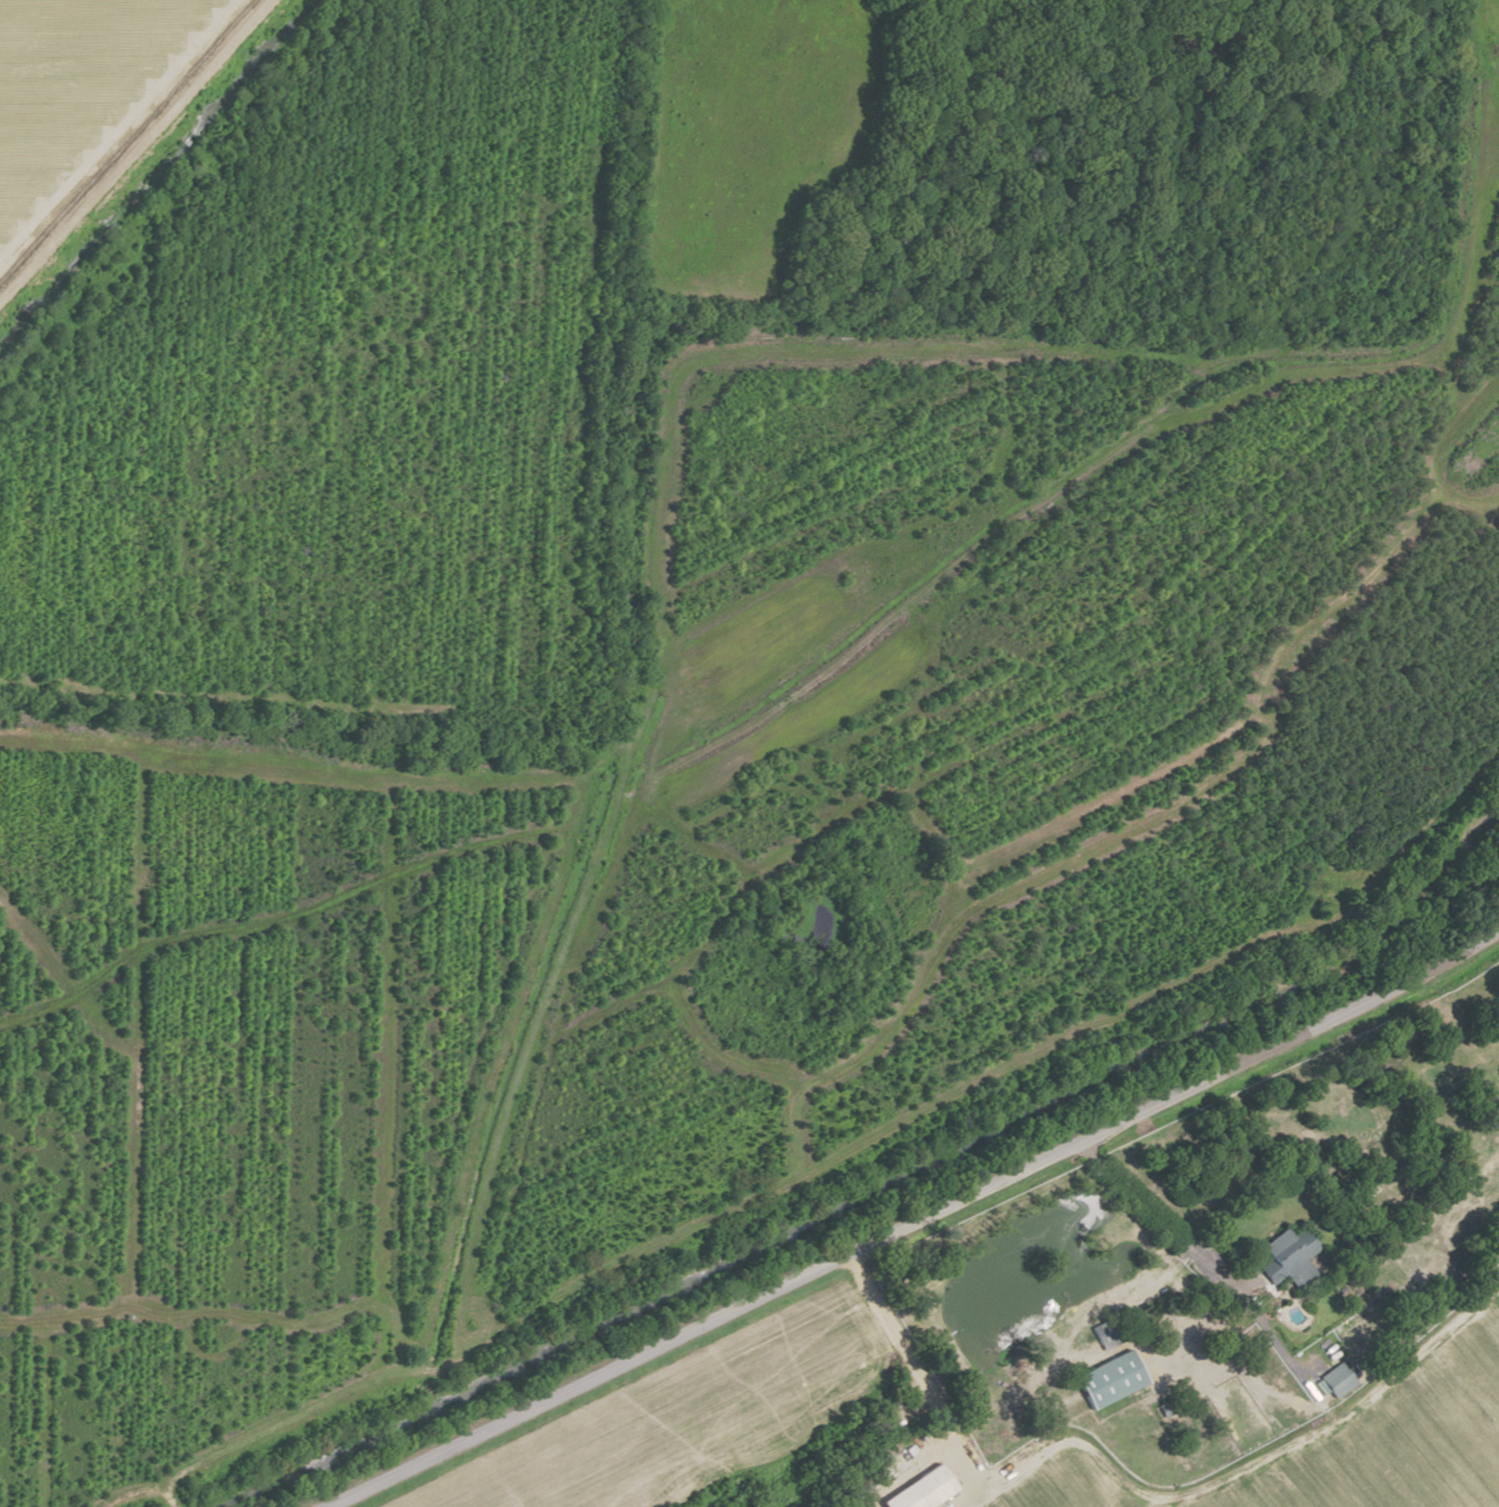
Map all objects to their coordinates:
road: (116, 128)
road: (913, 1222)
building: (1283, 1257)
road: (1198, 1258)
building: (1123, 1380)
building: (1332, 1381)
road: (1234, 1470)
building: (915, 1489)

